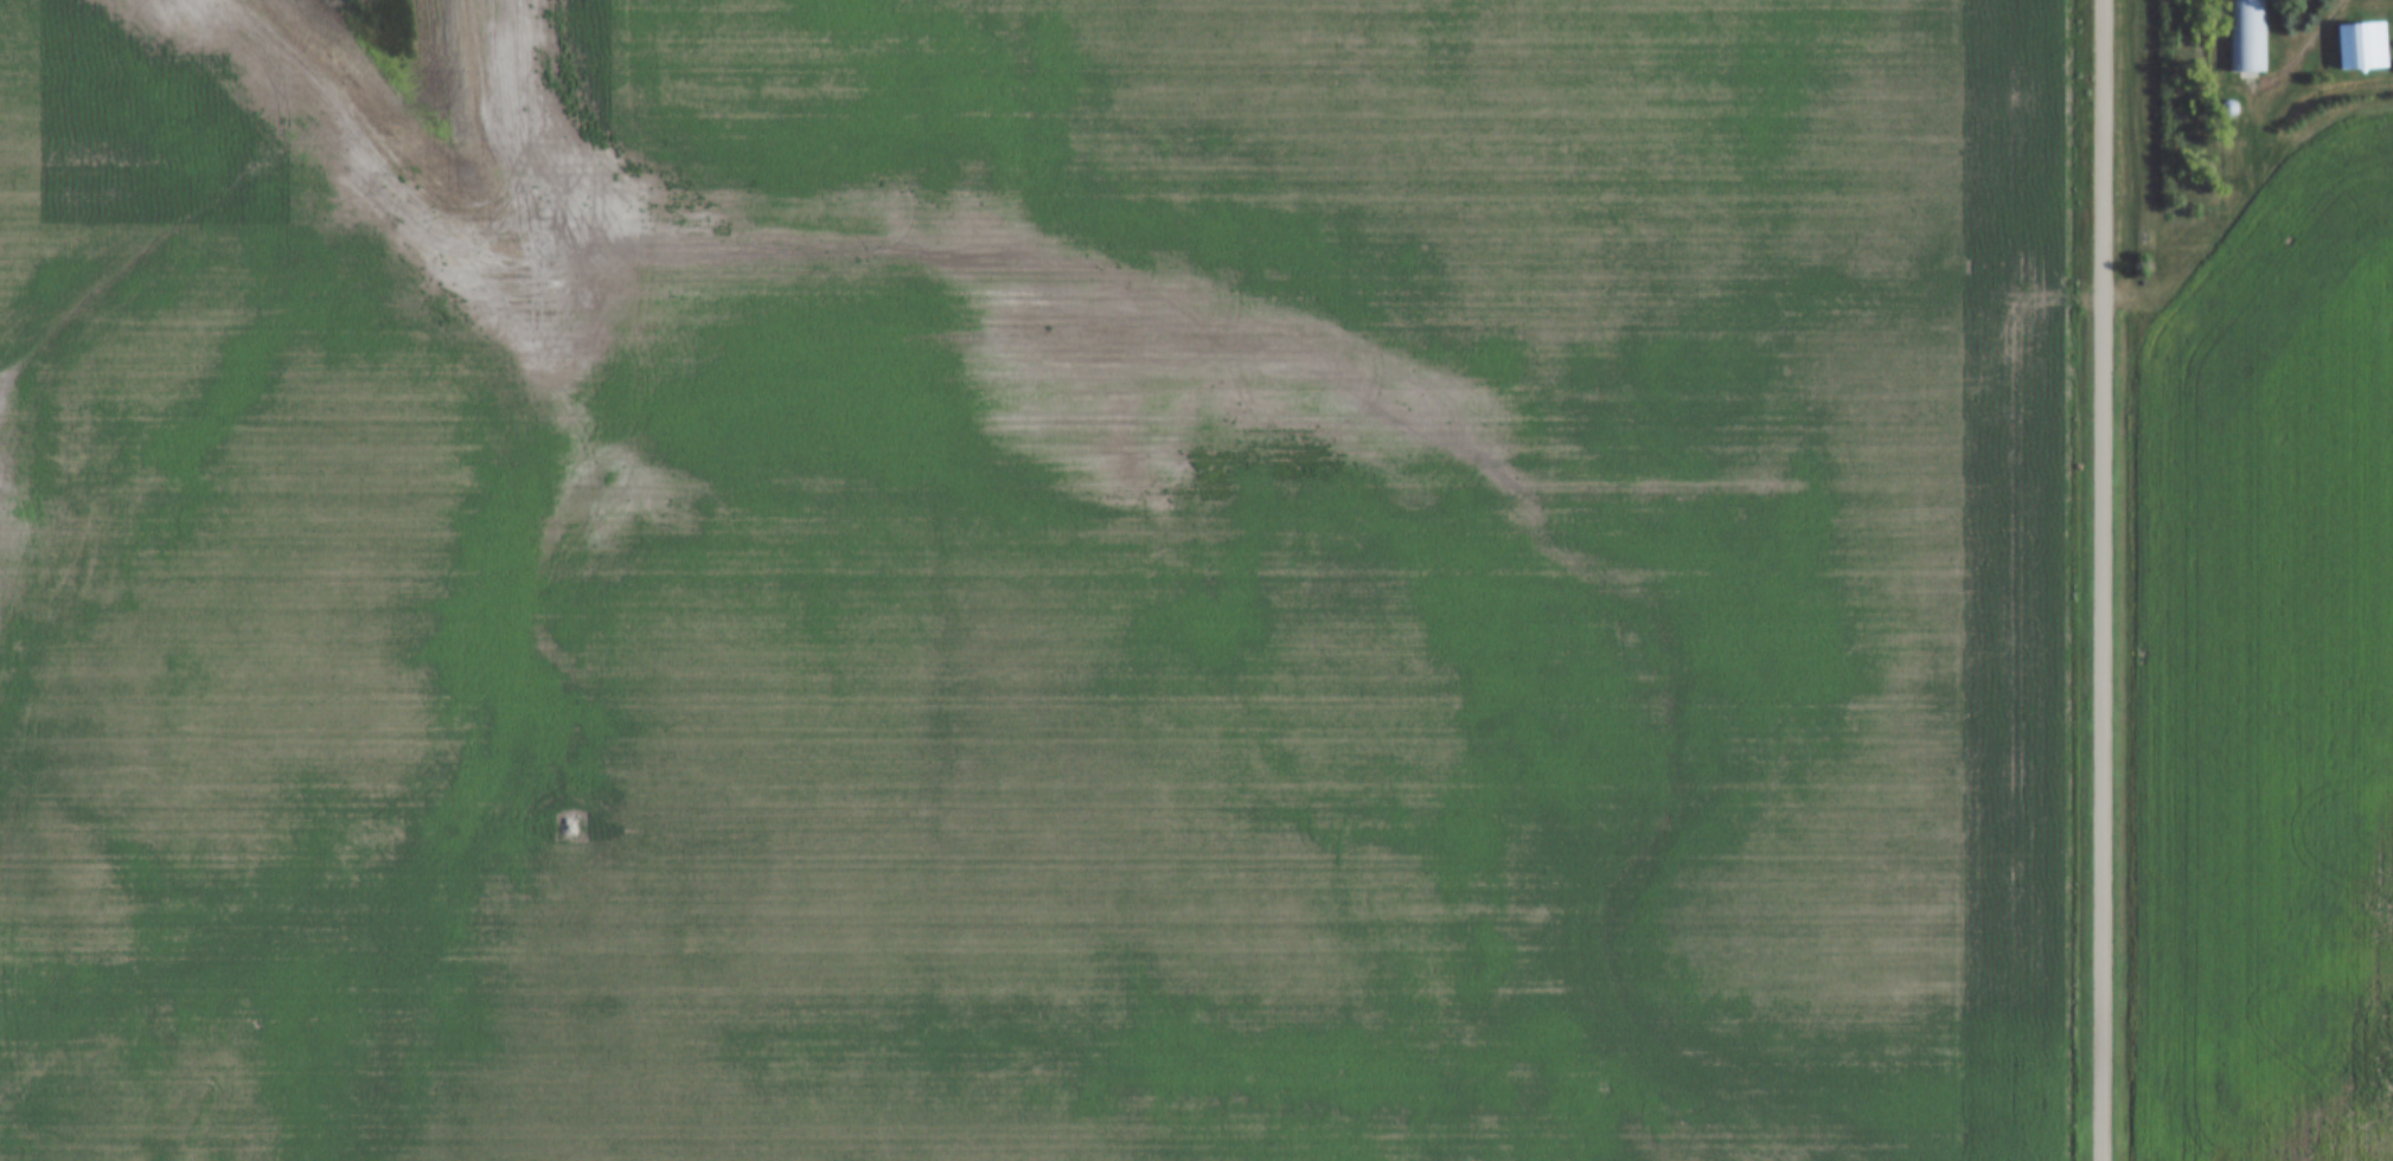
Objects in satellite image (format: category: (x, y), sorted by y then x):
building: (2247, 34)
building: (2362, 45)
road: (2103, 579)

